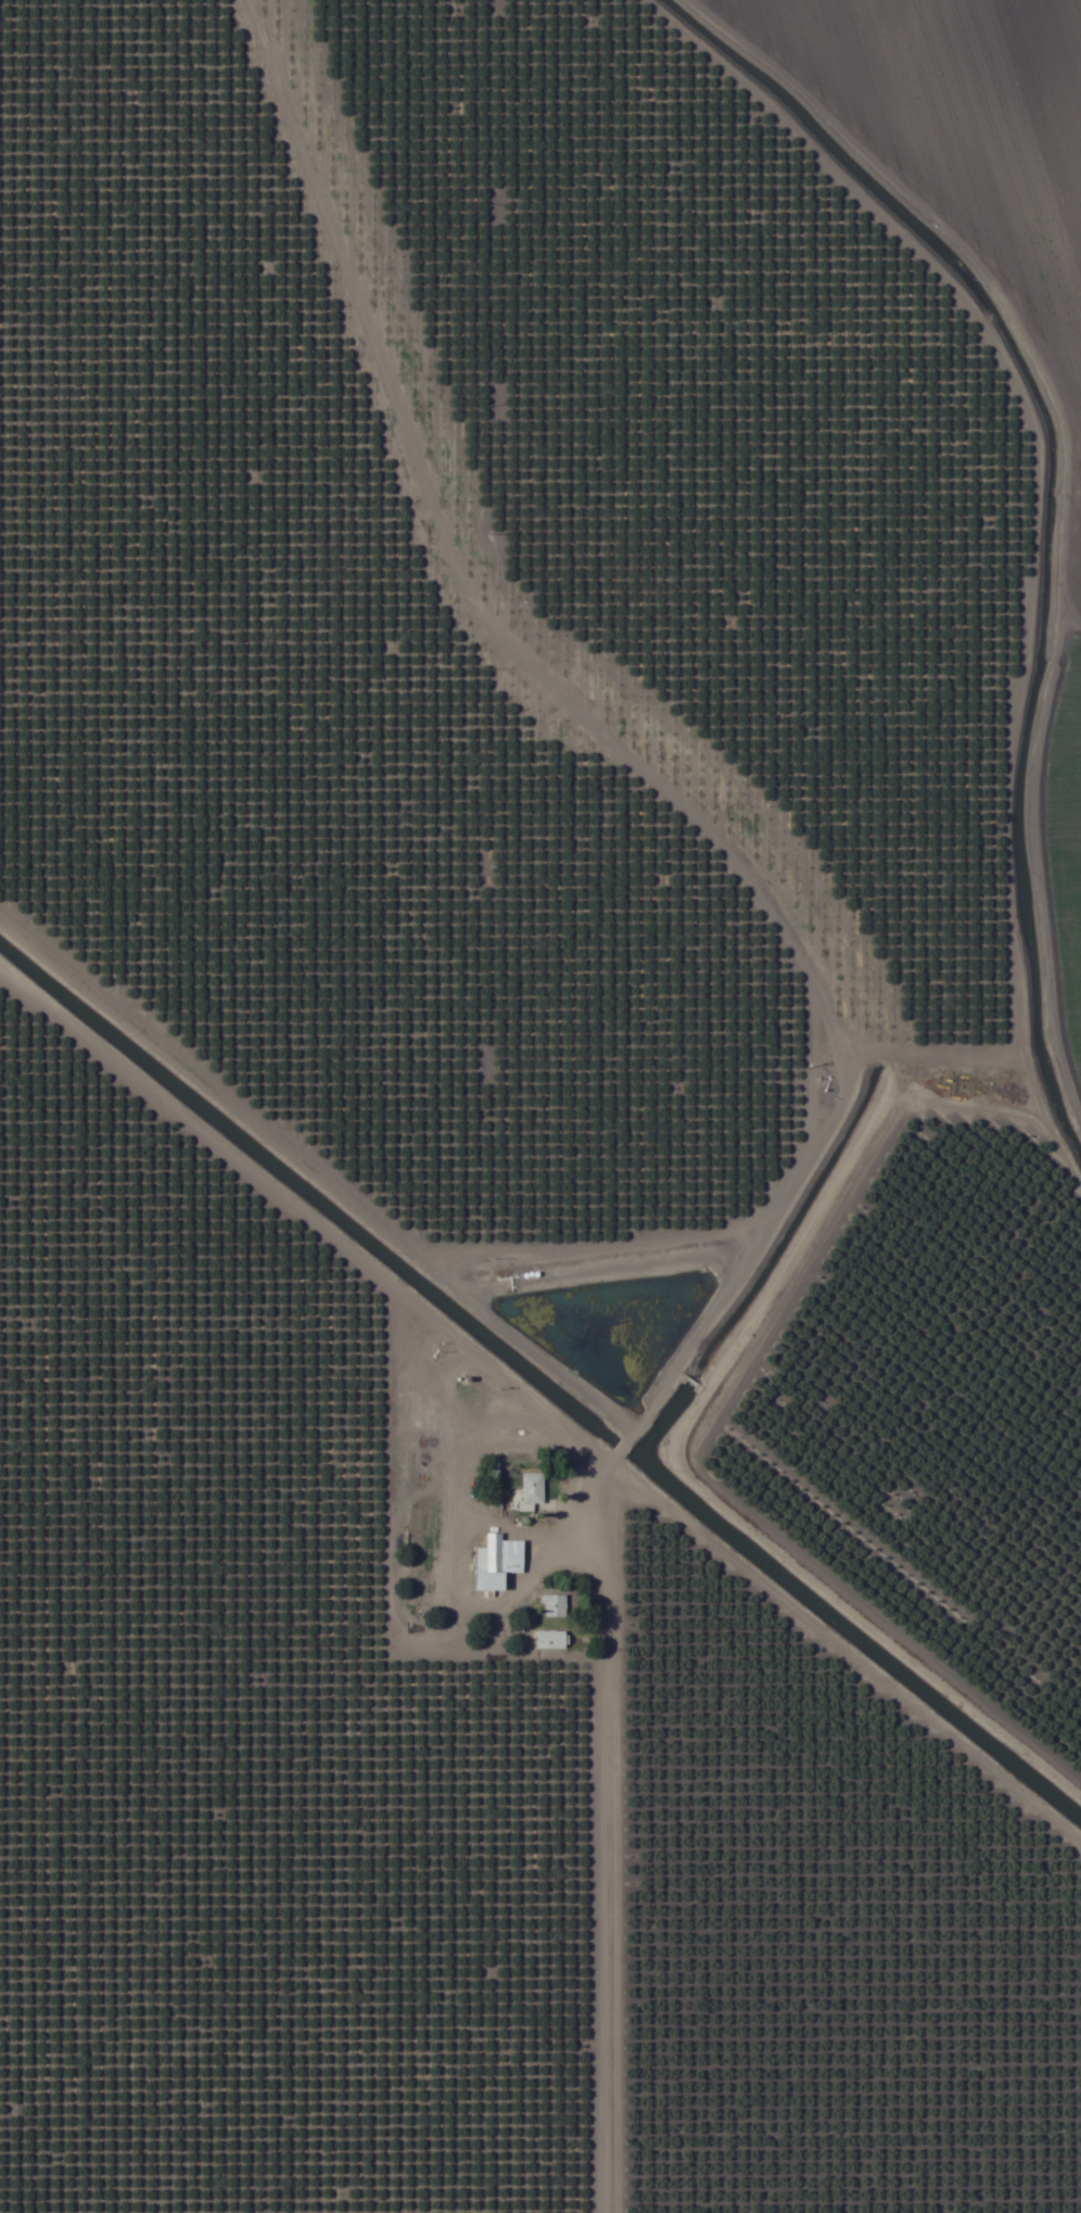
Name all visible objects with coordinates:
road: (852, 1046)
crop: (540, 1106)
building: (985, 1275)
building: (891, 1327)
building: (1078, 1377)
building: (837, 1459)
building: (526, 1495)
building: (494, 1561)
building: (971, 1565)
building: (554, 1606)
building: (492, 1635)
building: (550, 1640)

